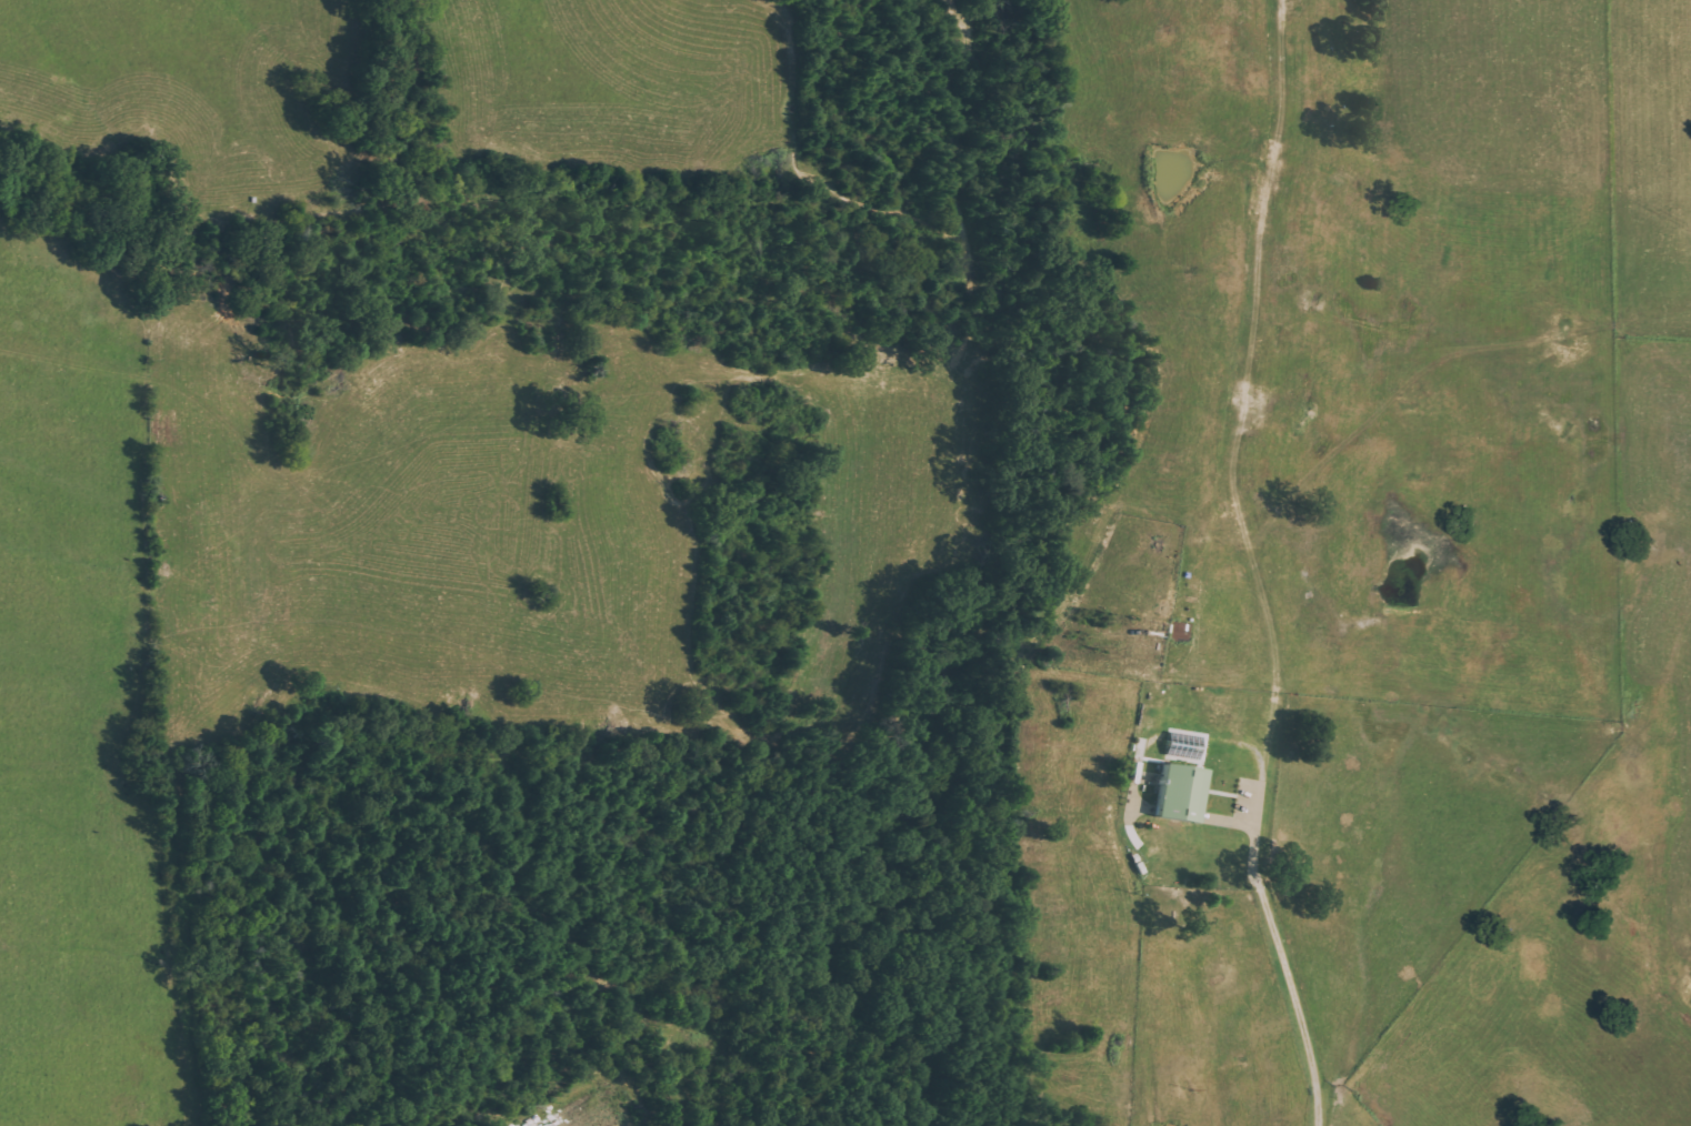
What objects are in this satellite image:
building: (1173, 793)

